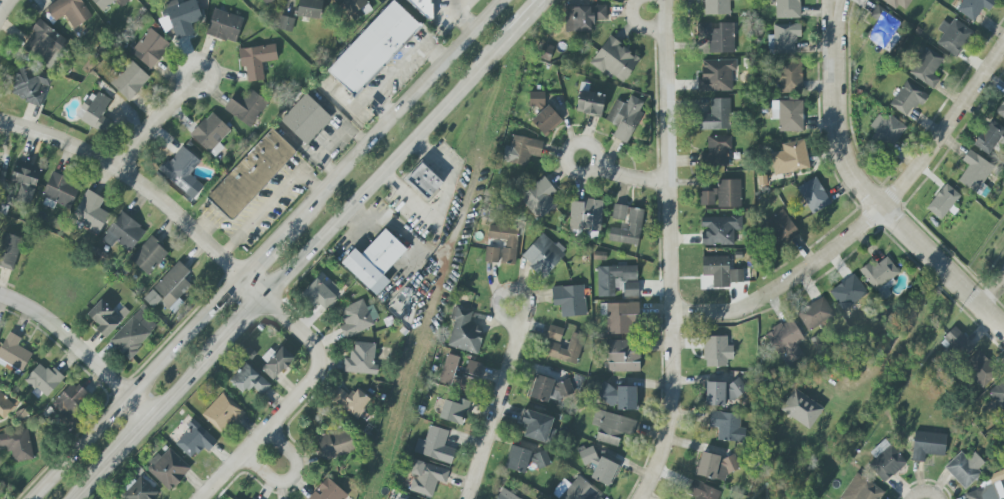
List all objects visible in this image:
building: (267, 2)
building: (109, 3)
building: (899, 4)
building: (716, 7)
building: (974, 7)
building: (310, 9)
building: (355, 9)
building: (787, 9)
building: (68, 11)
road: (4, 13)
road: (527, 14)
road: (461, 15)
building: (182, 17)
building: (583, 17)
road: (838, 18)
road: (827, 19)
building: (165, 23)
building: (285, 23)
road: (638, 24)
building: (224, 26)
building: (882, 27)
building: (718, 37)
building: (952, 37)
building: (783, 39)
building: (40, 40)
building: (150, 48)
building: (373, 48)
building: (545, 52)
building: (256, 60)
building: (615, 60)
building: (927, 68)
building: (716, 75)
building: (789, 77)
building: (129, 80)
building: (30, 86)
building: (907, 98)
building: (536, 99)
building: (590, 103)
road: (403, 105)
building: (246, 108)
building: (1000, 110)
building: (95, 111)
building: (716, 116)
building: (790, 116)
building: (624, 118)
building: (305, 119)
building: (546, 121)
road: (161, 126)
building: (886, 131)
building: (210, 134)
building: (988, 137)
road: (575, 142)
building: (521, 150)
building: (715, 152)
building: (790, 158)
road: (390, 163)
building: (181, 168)
building: (974, 171)
building: (251, 174)
building: (1, 175)
road: (631, 177)
road: (133, 179)
building: (423, 181)
building: (23, 182)
building: (60, 190)
building: (728, 193)
building: (813, 195)
building: (539, 198)
building: (707, 198)
building: (942, 202)
road: (878, 203)
building: (90, 212)
building: (619, 212)
building: (585, 216)
road: (866, 220)
building: (781, 228)
building: (628, 229)
building: (719, 230)
building: (123, 233)
building: (505, 240)
road: (274, 243)
building: (9, 251)
road: (670, 252)
building: (491, 255)
building: (542, 255)
building: (148, 256)
building: (374, 261)
building: (716, 270)
building: (736, 276)
building: (613, 278)
road: (254, 287)
building: (169, 288)
road: (505, 290)
building: (630, 290)
building: (847, 292)
road: (991, 293)
building: (319, 295)
building: (569, 300)
building: (814, 314)
building: (106, 317)
building: (358, 317)
building: (621, 317)
road: (244, 321)
road: (295, 326)
building: (464, 333)
building: (554, 333)
building: (785, 339)
road: (896, 340)
building: (956, 342)
building: (565, 349)
road: (80, 350)
building: (716, 351)
building: (13, 353)
building: (622, 356)
building: (361, 359)
building: (277, 363)
building: (979, 369)
building: (458, 374)
building: (44, 380)
road: (187, 380)
building: (248, 380)
road: (135, 386)
building: (549, 389)
building: (721, 392)
building: (998, 395)
building: (619, 397)
building: (70, 401)
building: (351, 401)
building: (5, 406)
building: (801, 409)
road: (494, 410)
building: (454, 411)
building: (222, 413)
building: (725, 425)
building: (537, 427)
building: (611, 427)
road: (264, 431)
building: (194, 440)
building: (17, 443)
road: (127, 444)
building: (335, 444)
building: (434, 445)
building: (927, 445)
building: (517, 459)
building: (540, 460)
building: (885, 461)
building: (714, 466)
building: (599, 467)
building: (168, 469)
building: (964, 469)
building: (997, 476)
road: (291, 477)
building: (426, 478)
road: (89, 485)
building: (861, 489)
building: (139, 490)
building: (576, 490)
building: (328, 491)
building: (703, 491)
road: (925, 492)
building: (987, 492)
building: (505, 495)
building: (232, 498)
building: (250, 498)
building: (397, 498)

